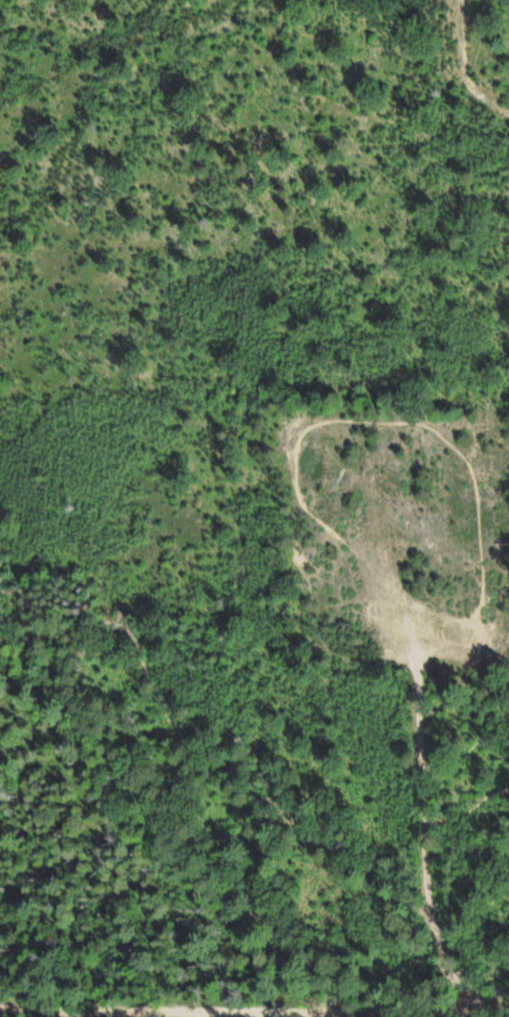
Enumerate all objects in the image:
road: (467, 67)
road: (67, 564)
road: (64, 604)
road: (246, 794)
road: (467, 805)
road: (426, 841)
road: (101, 1010)
road: (344, 1012)
road: (497, 1014)
road: (487, 1015)

